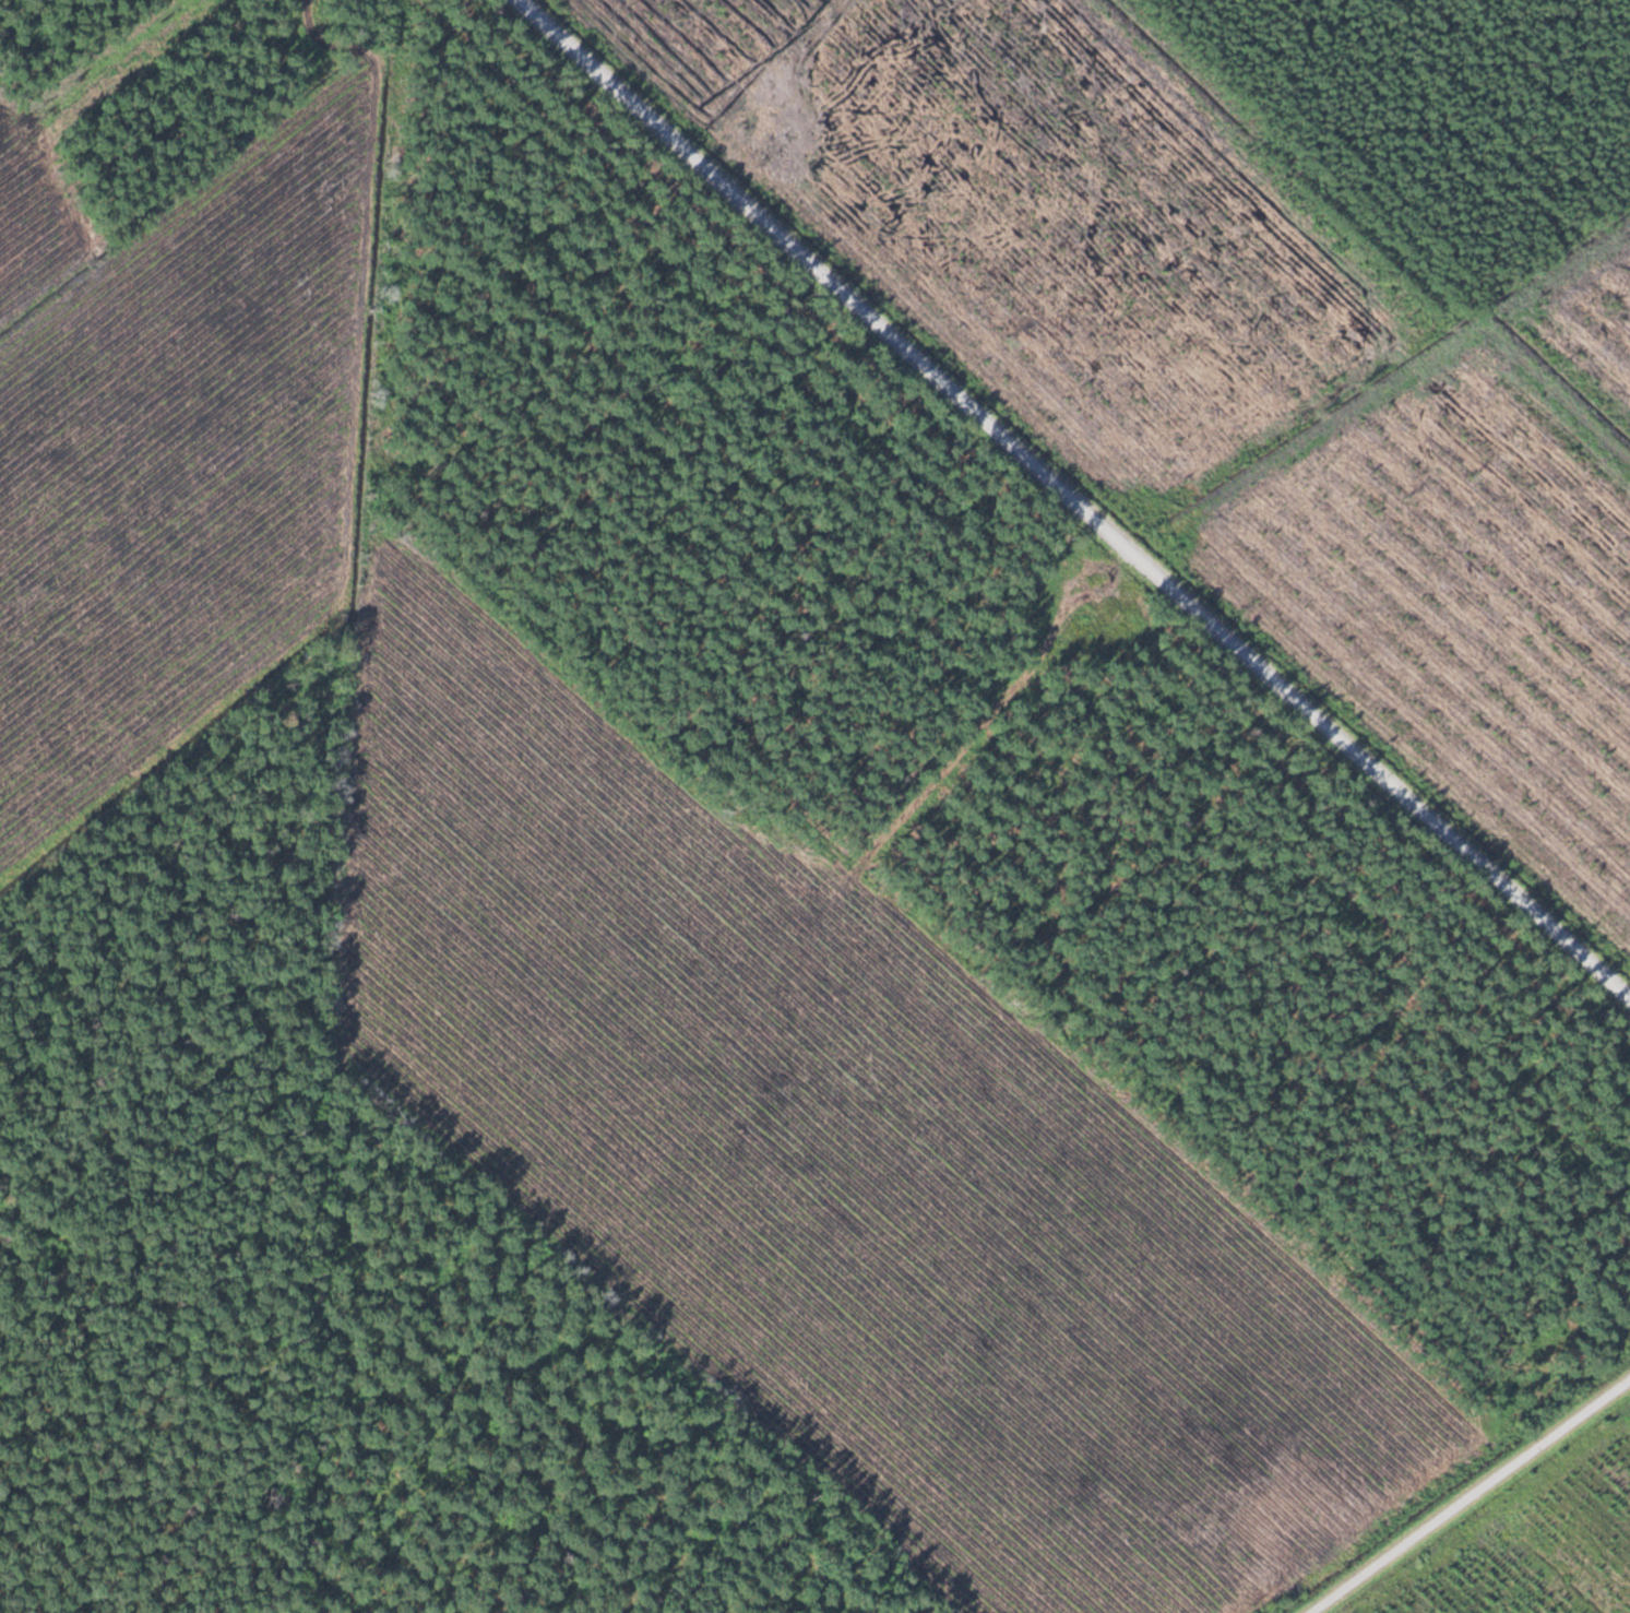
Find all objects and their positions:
road: (1076, 496)
road: (1470, 1494)

